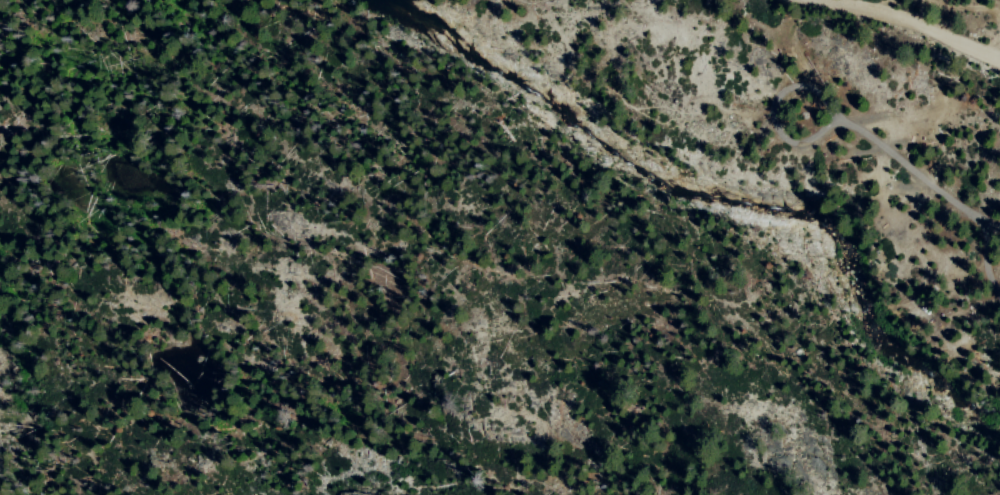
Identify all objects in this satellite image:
road: (972, 8)
road: (910, 21)
road: (996, 47)
road: (996, 59)
road: (772, 110)
road: (917, 173)
road: (988, 256)

